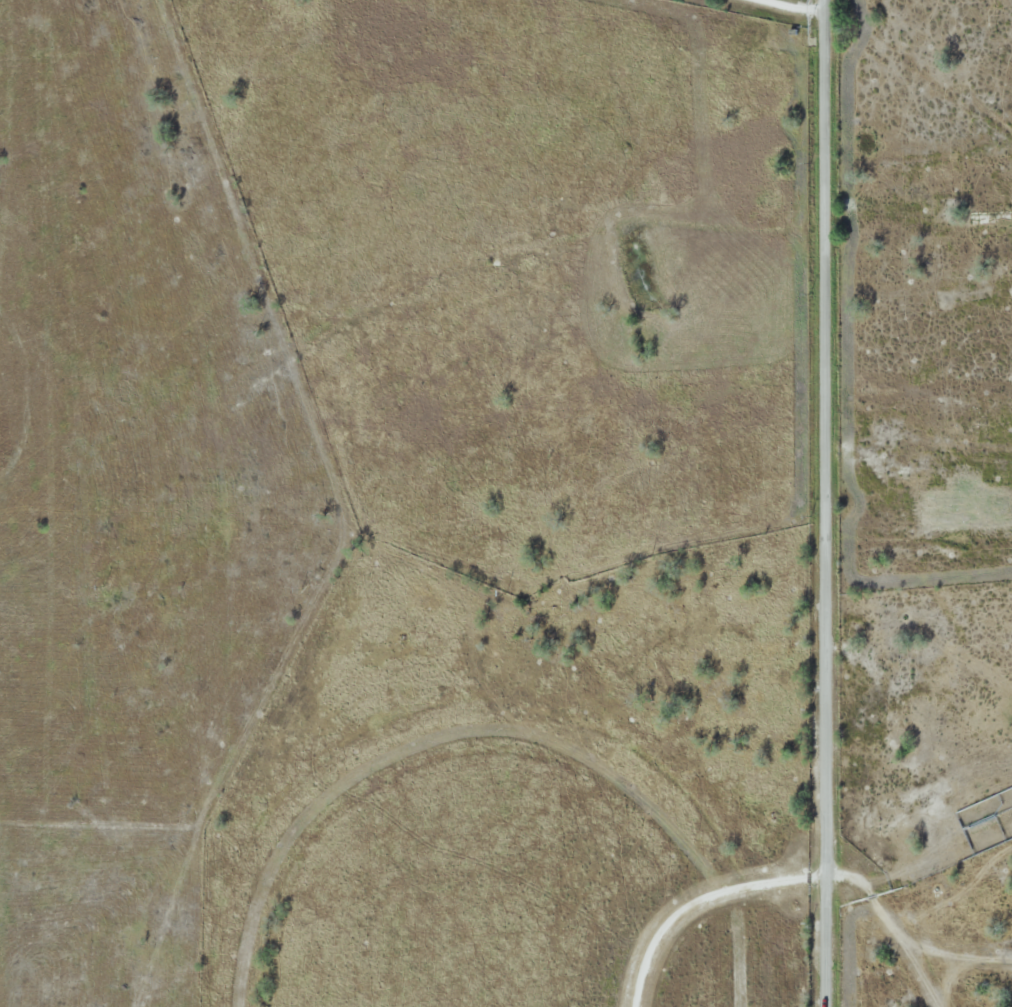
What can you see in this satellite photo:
road: (798, 5)
building: (954, 457)
road: (826, 503)
road: (701, 900)
road: (890, 928)

